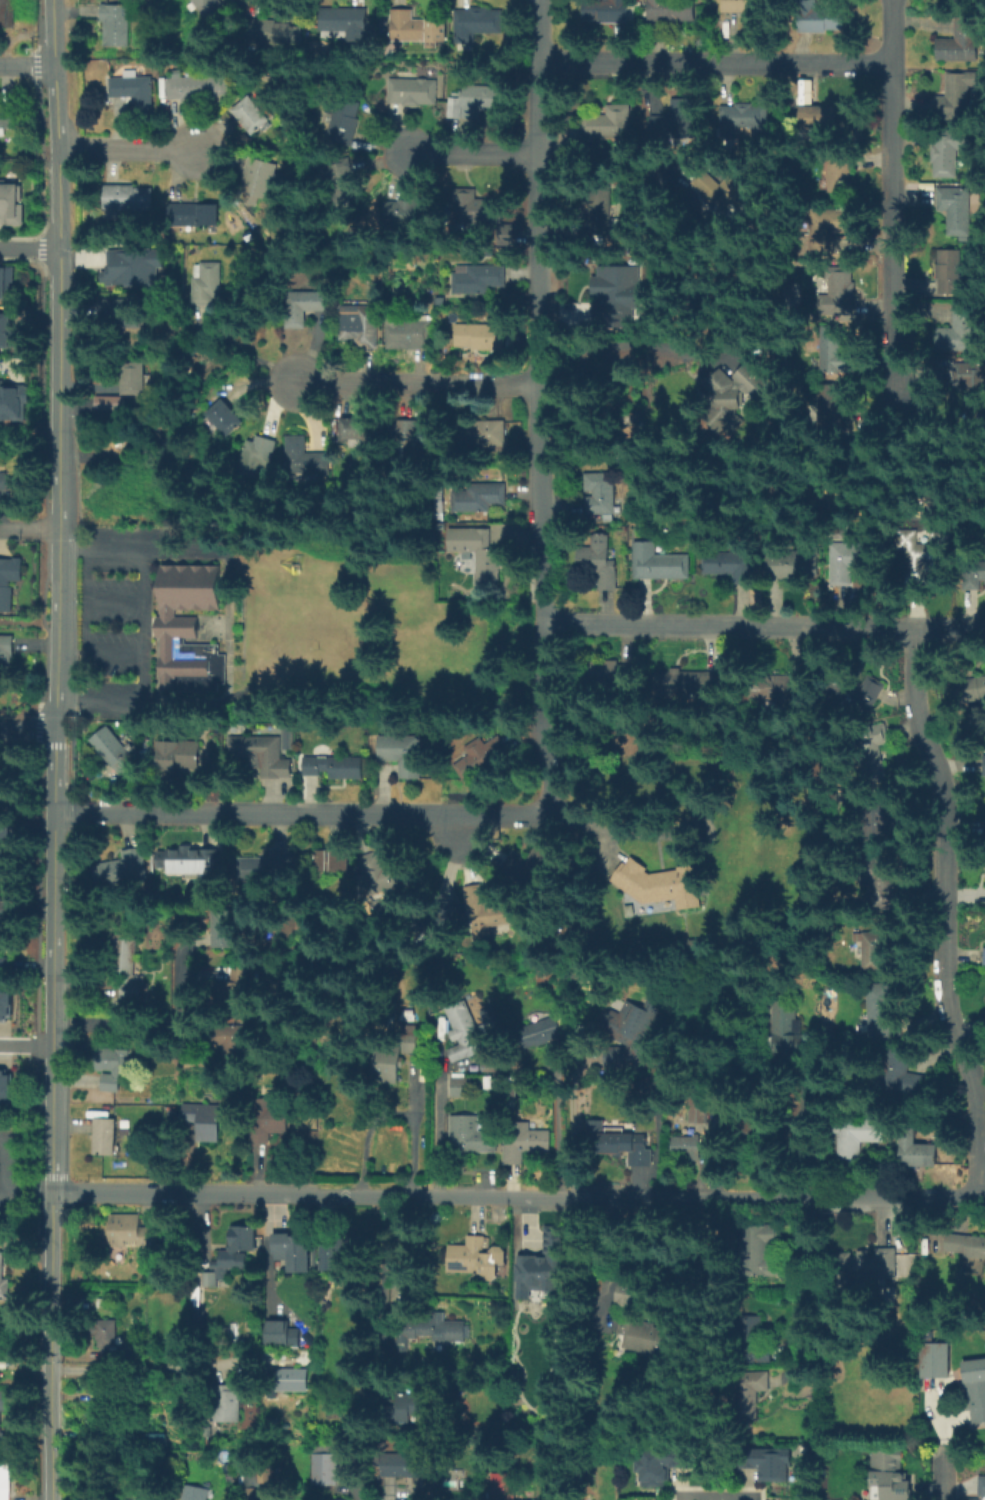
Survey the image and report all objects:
building: (212, 10)
building: (610, 11)
building: (670, 11)
building: (745, 11)
building: (9, 14)
building: (819, 18)
building: (346, 22)
building: (477, 26)
building: (115, 27)
building: (414, 30)
building: (268, 34)
building: (960, 43)
road: (714, 61)
road: (27, 66)
road: (55, 74)
building: (191, 88)
building: (135, 92)
building: (413, 92)
building: (956, 96)
building: (477, 104)
building: (252, 115)
building: (8, 116)
building: (820, 119)
building: (742, 121)
building: (345, 122)
building: (610, 124)
building: (671, 124)
road: (125, 149)
building: (949, 151)
road: (472, 152)
road: (612, 165)
building: (841, 175)
building: (259, 178)
building: (341, 181)
building: (717, 189)
building: (125, 198)
building: (11, 203)
road: (891, 204)
building: (476, 209)
building: (957, 210)
building: (408, 213)
building: (194, 216)
building: (602, 217)
building: (831, 227)
building: (508, 234)
road: (30, 247)
building: (120, 264)
building: (950, 274)
building: (478, 280)
building: (6, 282)
building: (208, 285)
building: (616, 285)
road: (60, 288)
building: (835, 295)
building: (305, 307)
building: (119, 313)
building: (360, 326)
building: (5, 331)
building: (958, 331)
building: (410, 333)
building: (481, 338)
road: (243, 350)
building: (829, 354)
building: (133, 377)
building: (972, 380)
road: (416, 382)
building: (730, 399)
road: (539, 400)
building: (13, 401)
building: (107, 405)
building: (832, 413)
building: (223, 418)
building: (356, 431)
building: (483, 433)
building: (411, 440)
building: (258, 454)
building: (306, 458)
building: (493, 472)
building: (4, 482)
building: (600, 493)
building: (479, 499)
road: (29, 528)
road: (188, 545)
building: (479, 554)
building: (918, 555)
building: (660, 564)
building: (729, 565)
building: (847, 565)
building: (795, 566)
building: (600, 568)
building: (975, 575)
building: (5, 587)
road: (116, 593)
road: (144, 620)
road: (87, 624)
road: (762, 624)
building: (189, 631)
building: (6, 650)
building: (605, 672)
building: (690, 682)
building: (972, 690)
building: (785, 691)
building: (856, 692)
road: (28, 731)
building: (286, 736)
building: (873, 750)
building: (265, 753)
building: (116, 754)
building: (403, 755)
building: (179, 757)
building: (481, 757)
building: (983, 764)
building: (337, 766)
road: (55, 810)
road: (305, 812)
building: (882, 820)
building: (984, 826)
building: (4, 834)
building: (3, 859)
building: (189, 862)
building: (335, 862)
building: (270, 867)
building: (121, 868)
building: (529, 868)
building: (381, 873)
building: (883, 883)
building: (659, 885)
building: (4, 912)
building: (489, 912)
road: (947, 913)
building: (225, 929)
building: (879, 949)
building: (124, 956)
building: (984, 956)
building: (3, 968)
building: (232, 989)
building: (4, 1001)
building: (984, 1009)
building: (883, 1014)
road: (141, 1021)
building: (786, 1029)
building: (544, 1031)
building: (630, 1034)
building: (466, 1036)
building: (231, 1042)
building: (410, 1043)
road: (27, 1046)
building: (113, 1067)
building: (385, 1069)
building: (904, 1076)
building: (4, 1085)
building: (459, 1087)
building: (512, 1089)
building: (697, 1111)
building: (205, 1121)
building: (267, 1122)
road: (572, 1124)
road: (438, 1127)
road: (412, 1128)
road: (555, 1134)
road: (364, 1136)
building: (857, 1137)
building: (105, 1138)
building: (468, 1138)
building: (533, 1142)
building: (626, 1146)
building: (686, 1146)
building: (916, 1154)
road: (5, 1164)
parking lot: (13, 1168)
park: (21, 1169)
road: (29, 1194)
road: (518, 1196)
road: (33, 1202)
building: (133, 1232)
building: (241, 1237)
building: (966, 1245)
building: (293, 1252)
road: (394, 1252)
building: (761, 1252)
building: (332, 1254)
building: (469, 1256)
building: (971, 1265)
building: (544, 1266)
building: (225, 1268)
building: (862, 1268)
building: (4, 1282)
road: (793, 1286)
building: (628, 1293)
building: (202, 1318)
building: (428, 1329)
building: (278, 1333)
building: (107, 1334)
building: (645, 1336)
building: (755, 1341)
road: (52, 1346)
building: (933, 1359)
road: (155, 1369)
building: (291, 1380)
building: (752, 1387)
building: (977, 1402)
building: (110, 1406)
building: (228, 1408)
building: (407, 1408)
building: (4, 1411)
building: (770, 1462)
building: (324, 1464)
building: (661, 1464)
building: (403, 1466)
building: (271, 1474)
building: (890, 1477)
road: (943, 1478)
building: (5, 1483)
building: (503, 1487)
building: (982, 1488)
building: (193, 1493)
building: (257, 1495)
road: (361, 1498)
building: (141, 1499)
building: (328, 1499)

